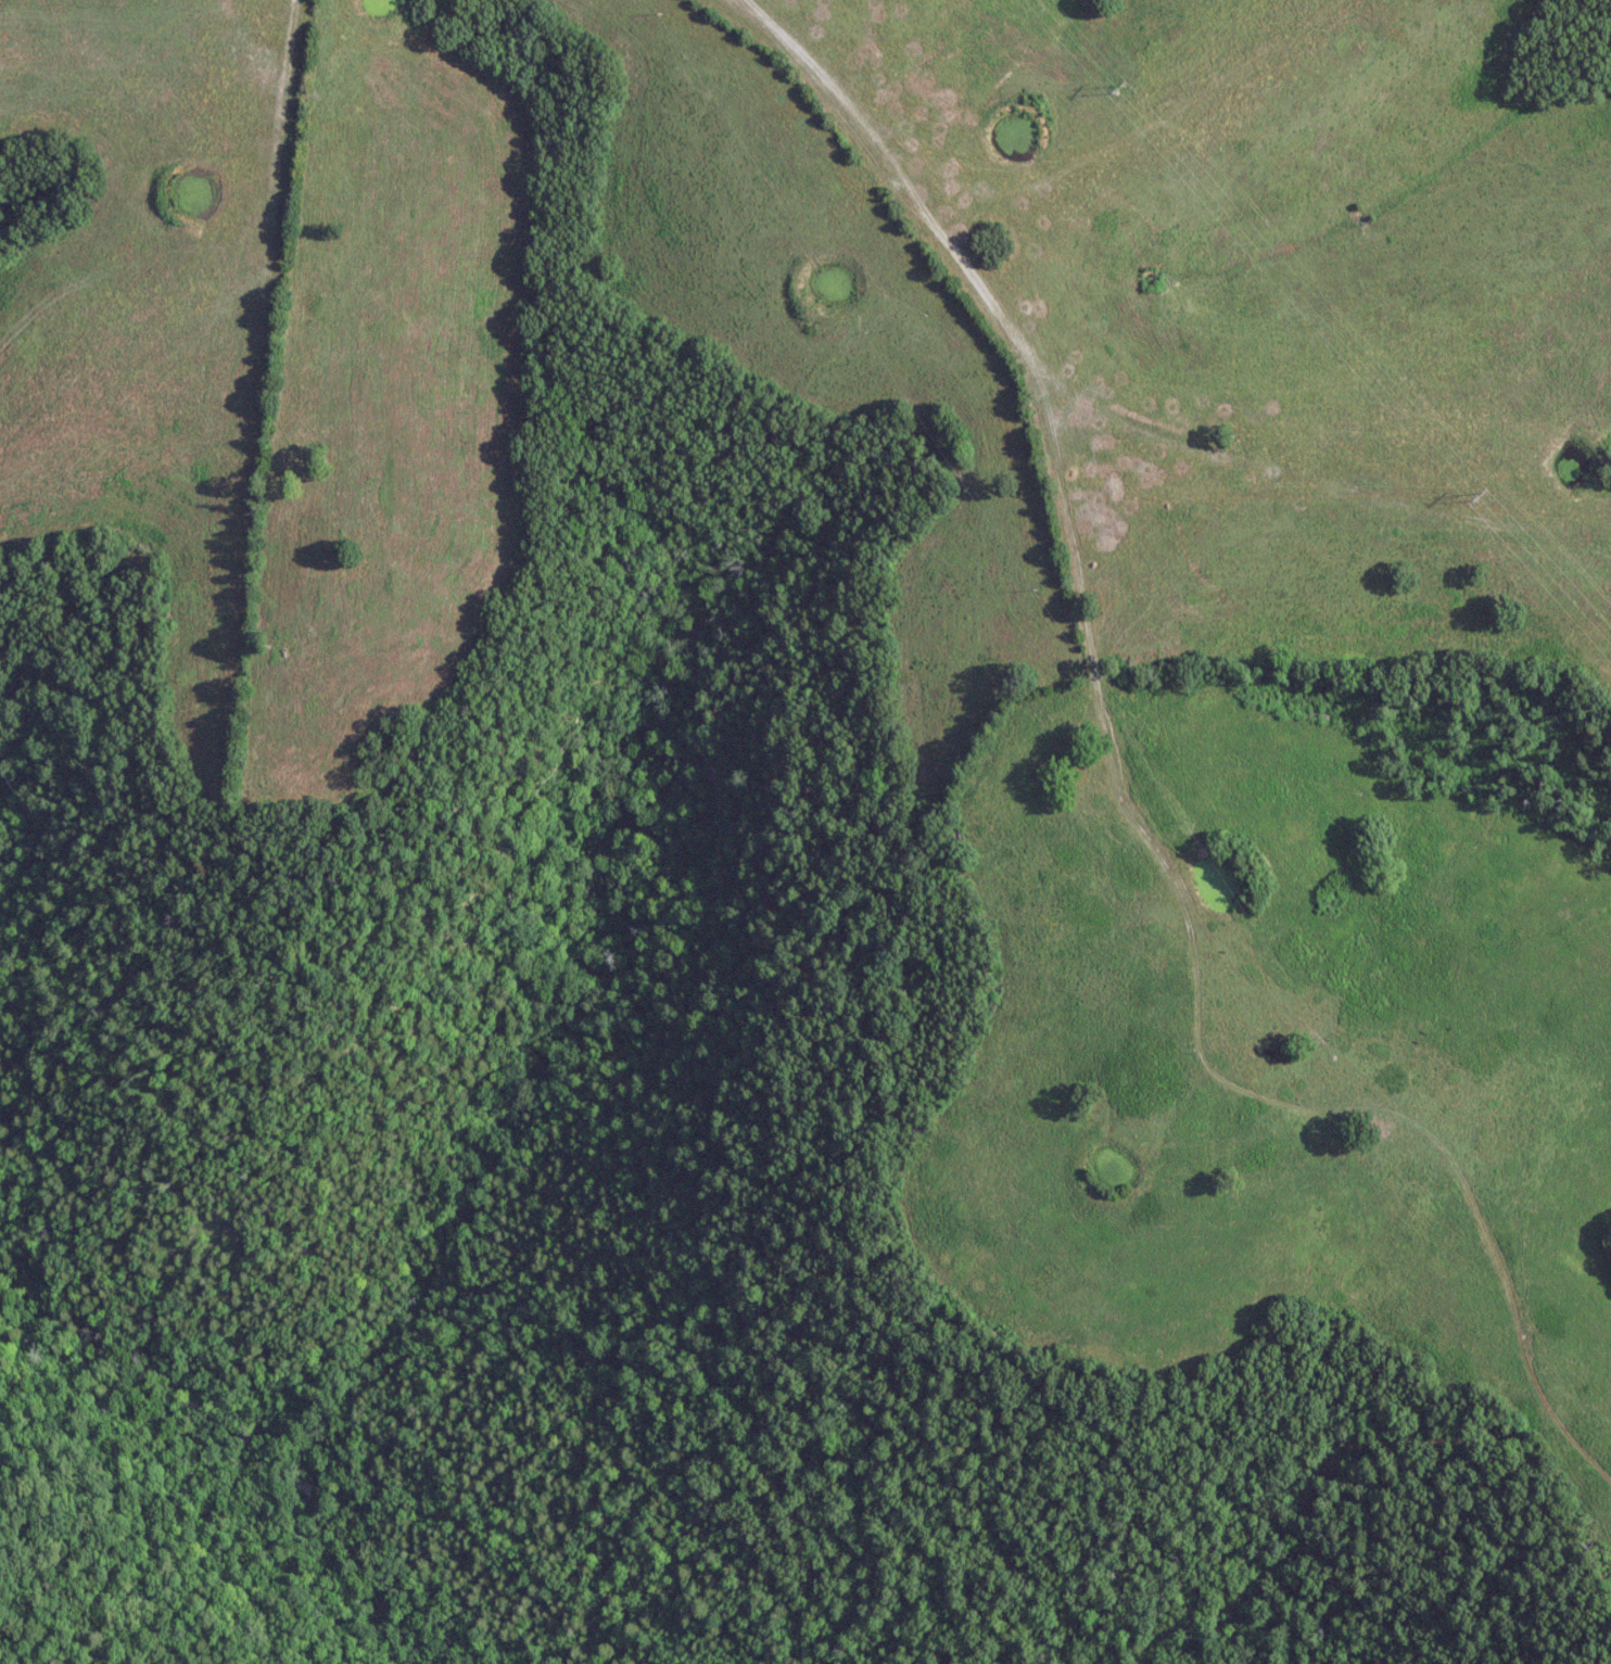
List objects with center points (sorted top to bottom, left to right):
power tower: (1121, 89)
power tower: (1480, 498)

